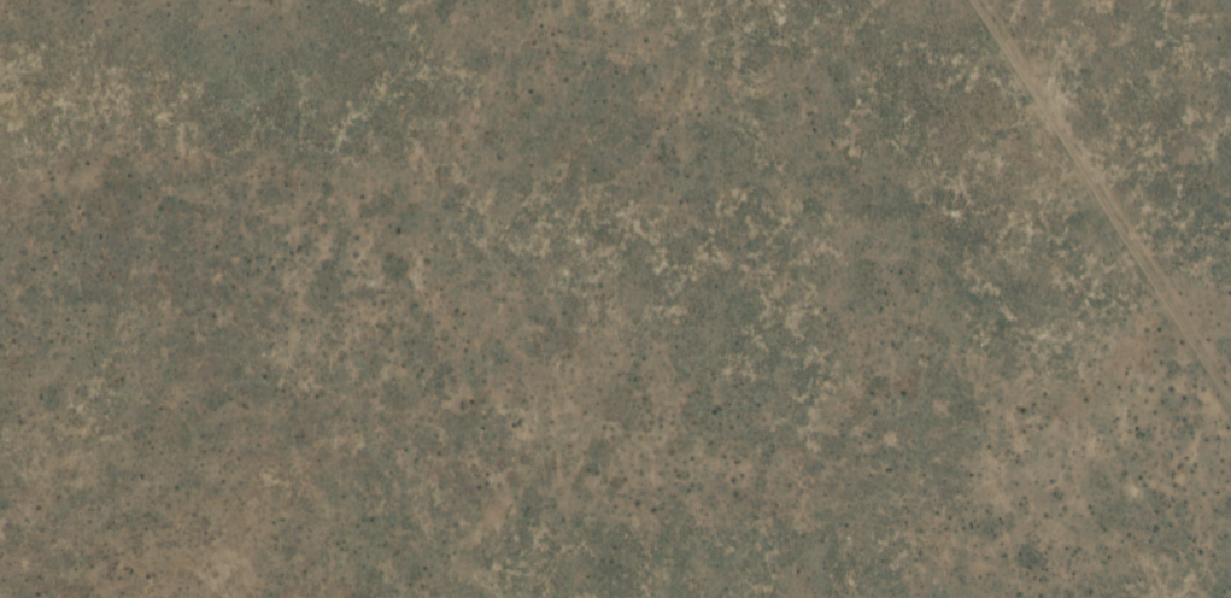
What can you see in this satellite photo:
road: (1100, 201)

